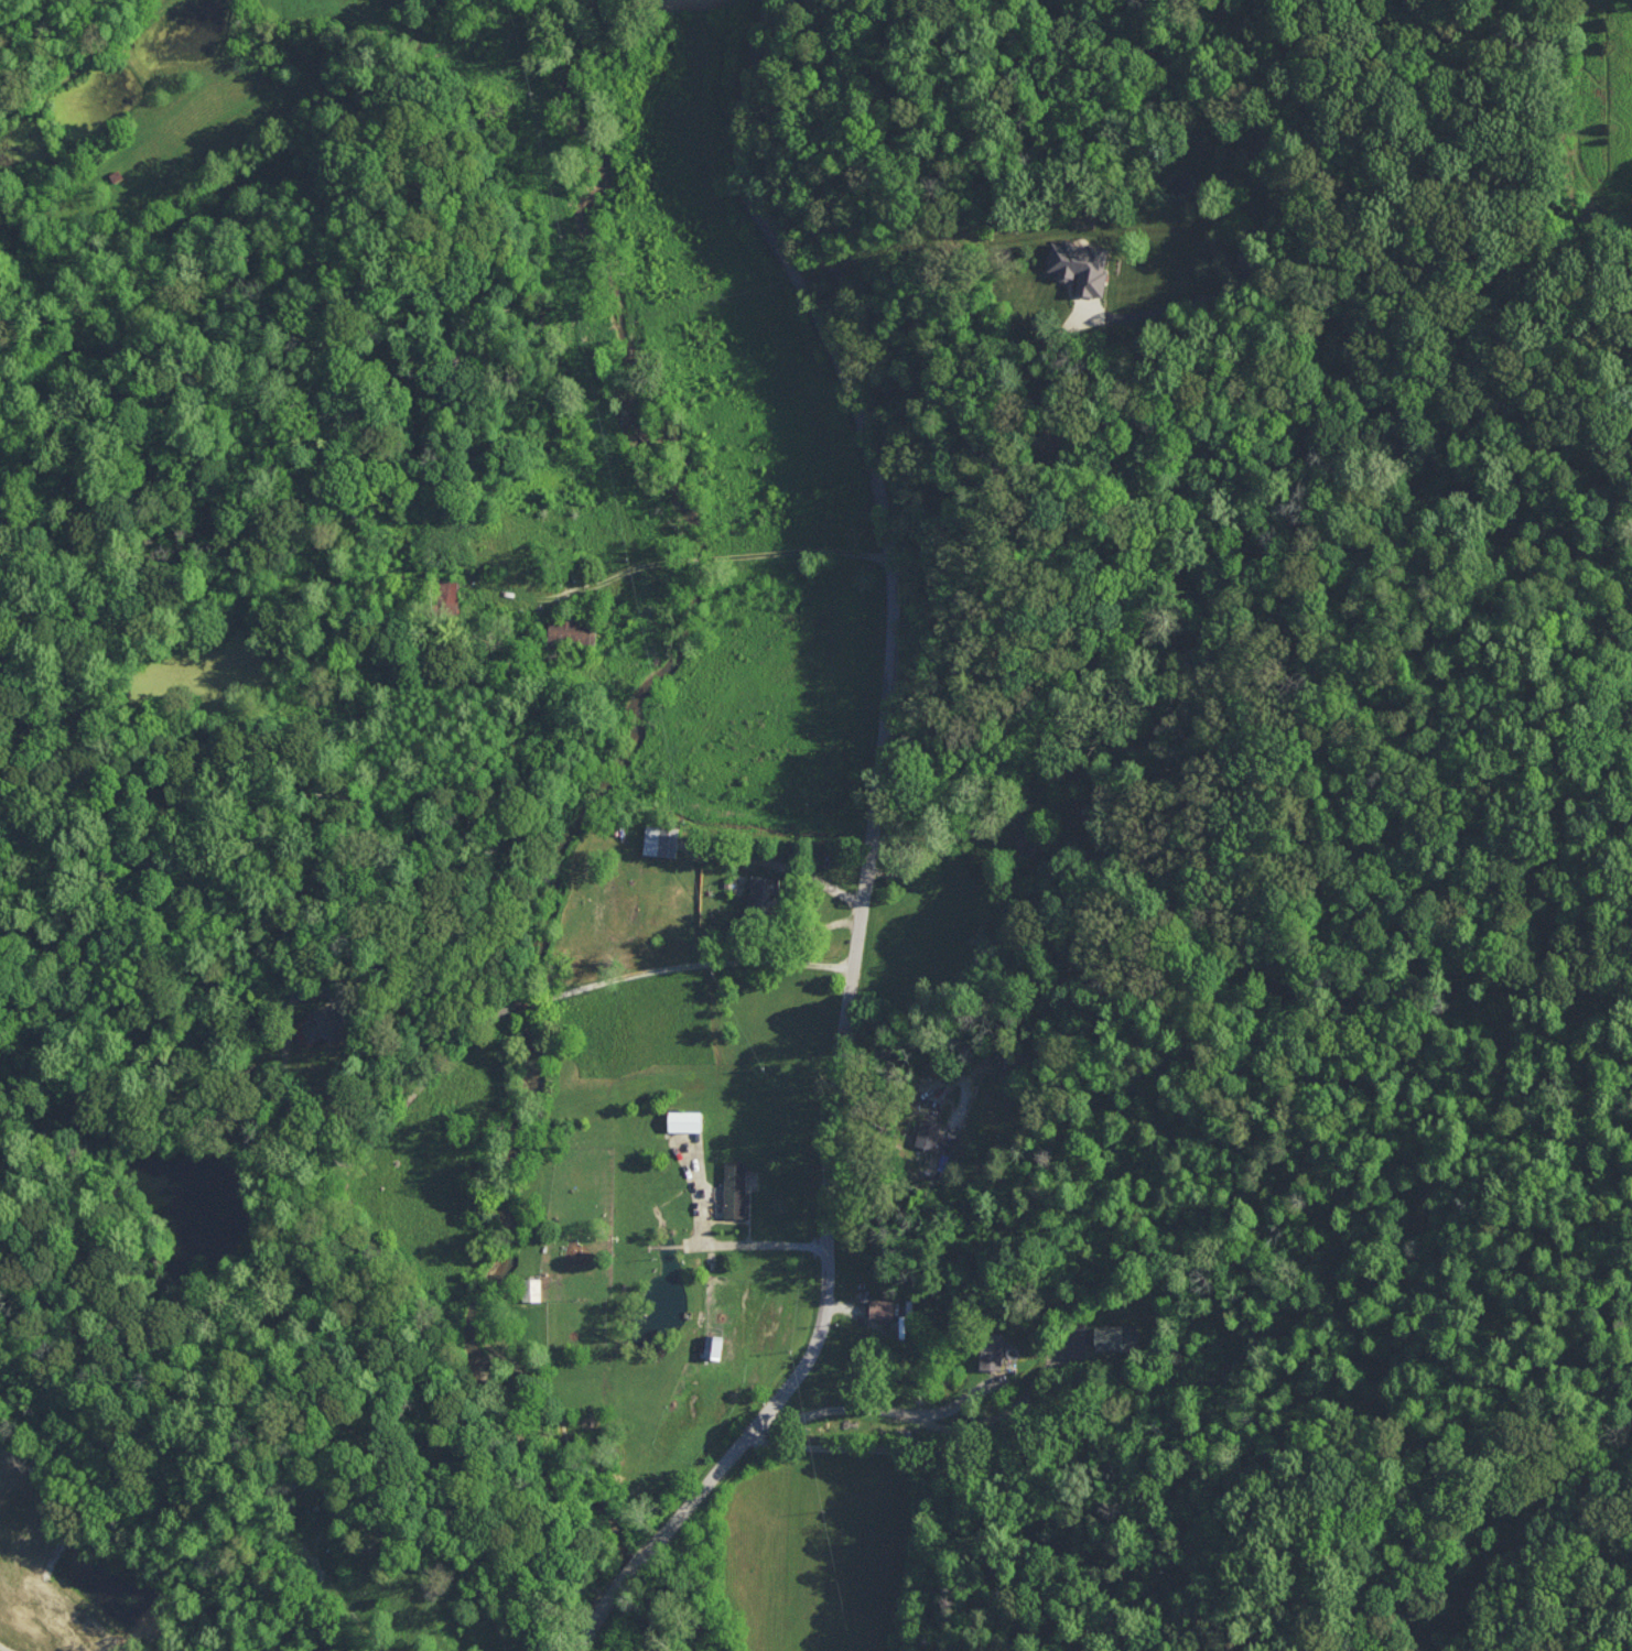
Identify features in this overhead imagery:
building: (1079, 264)
road: (956, 420)
road: (724, 557)
building: (573, 630)
building: (1022, 834)
building: (660, 840)
road: (868, 851)
road: (778, 861)
building: (763, 891)
road: (502, 1007)
building: (320, 1025)
road: (922, 1038)
building: (684, 1119)
building: (928, 1131)
building: (734, 1187)
road: (749, 1242)
building: (531, 1288)
building: (880, 1307)
building: (1115, 1337)
building: (712, 1345)
building: (991, 1349)
road: (879, 1409)
road: (937, 1463)
road: (0, 1650)

